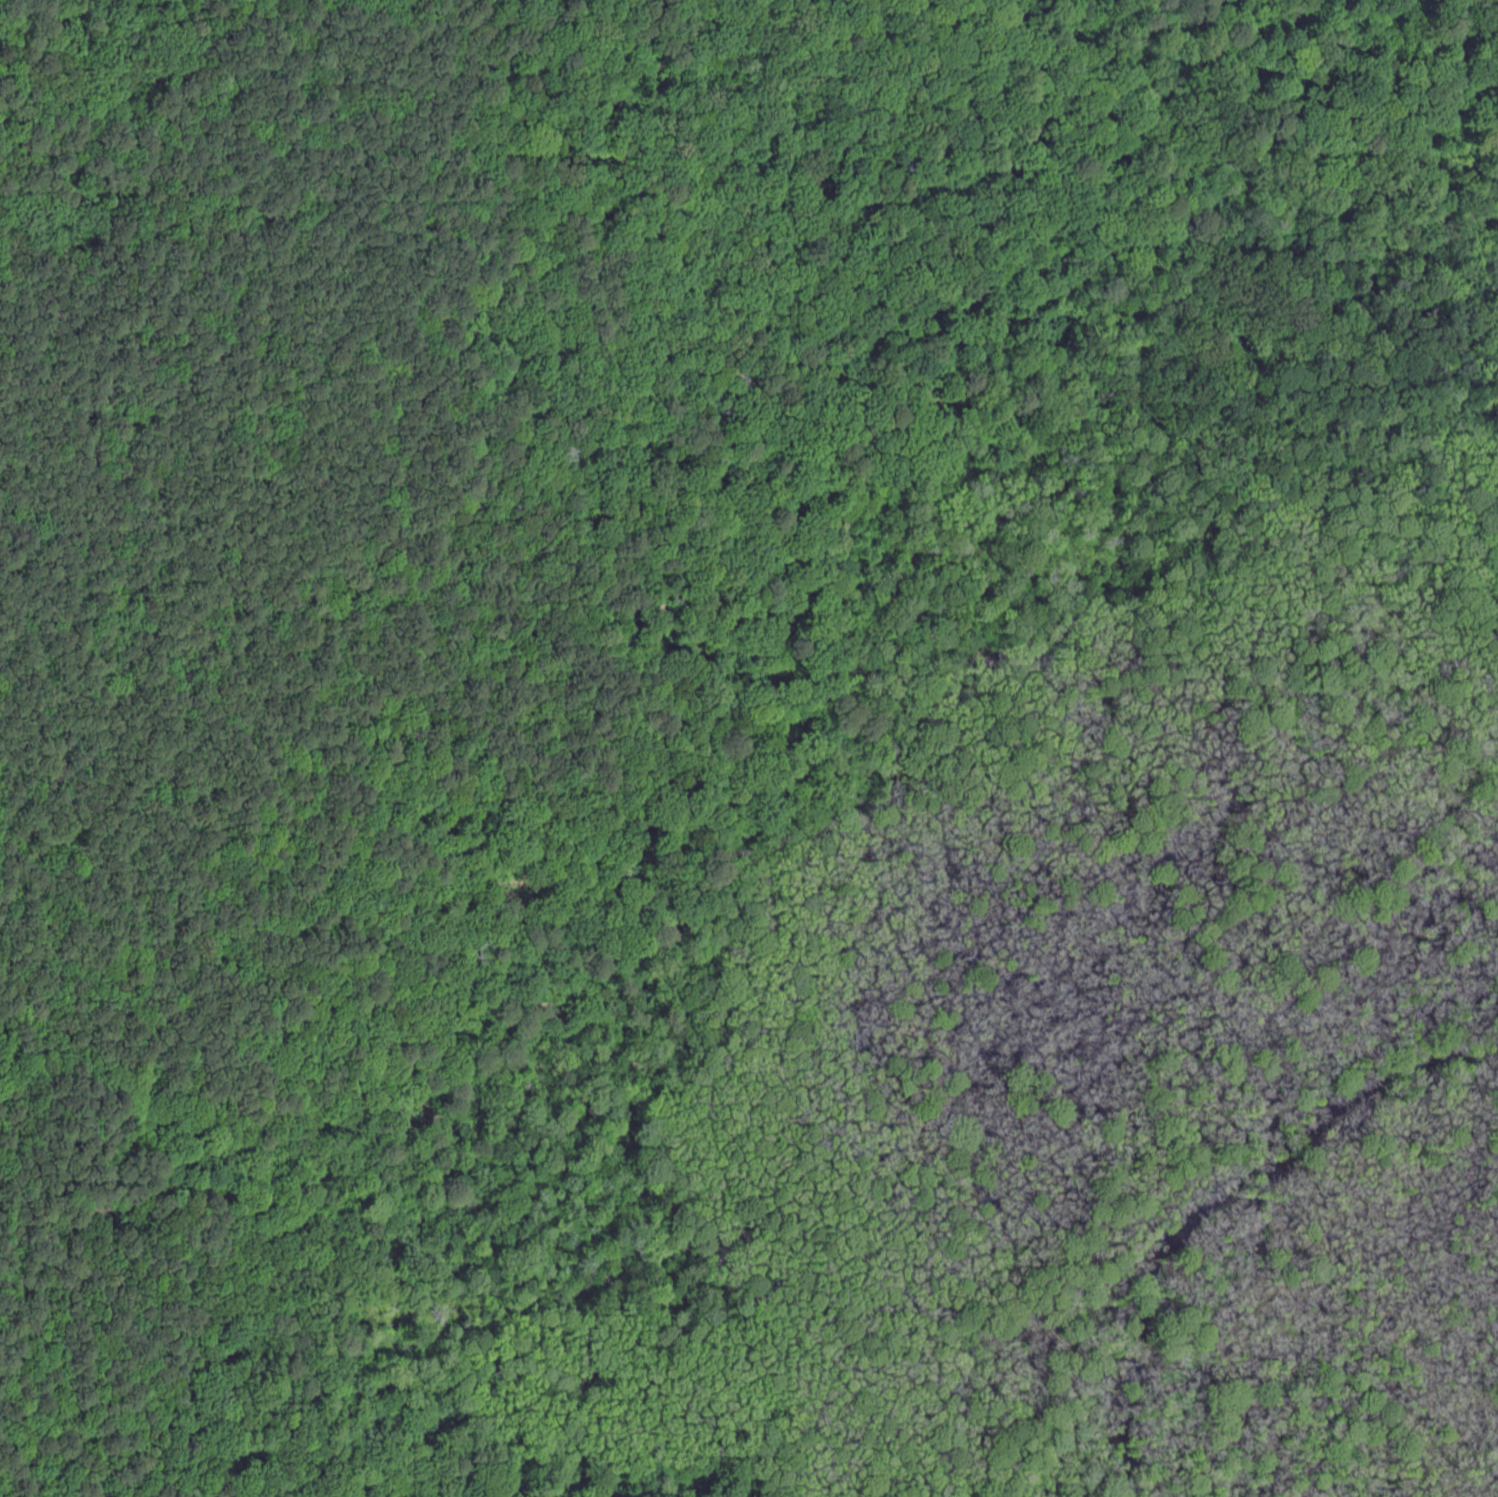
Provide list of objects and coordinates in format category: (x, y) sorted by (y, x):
road: (245, 679)
park: (749, 748)

